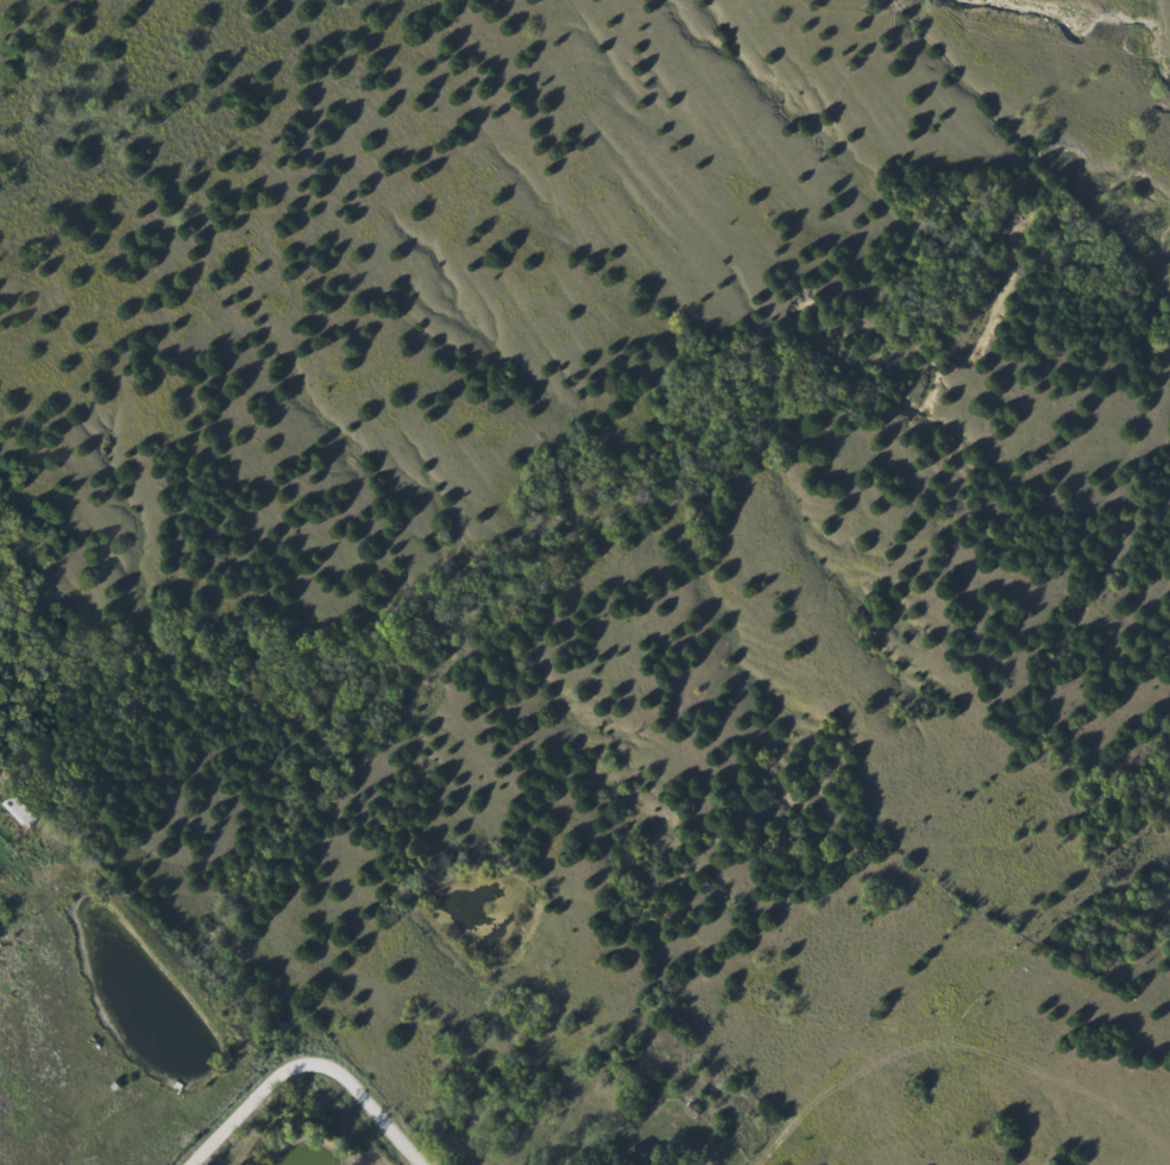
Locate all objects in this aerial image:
road: (312, 1062)

